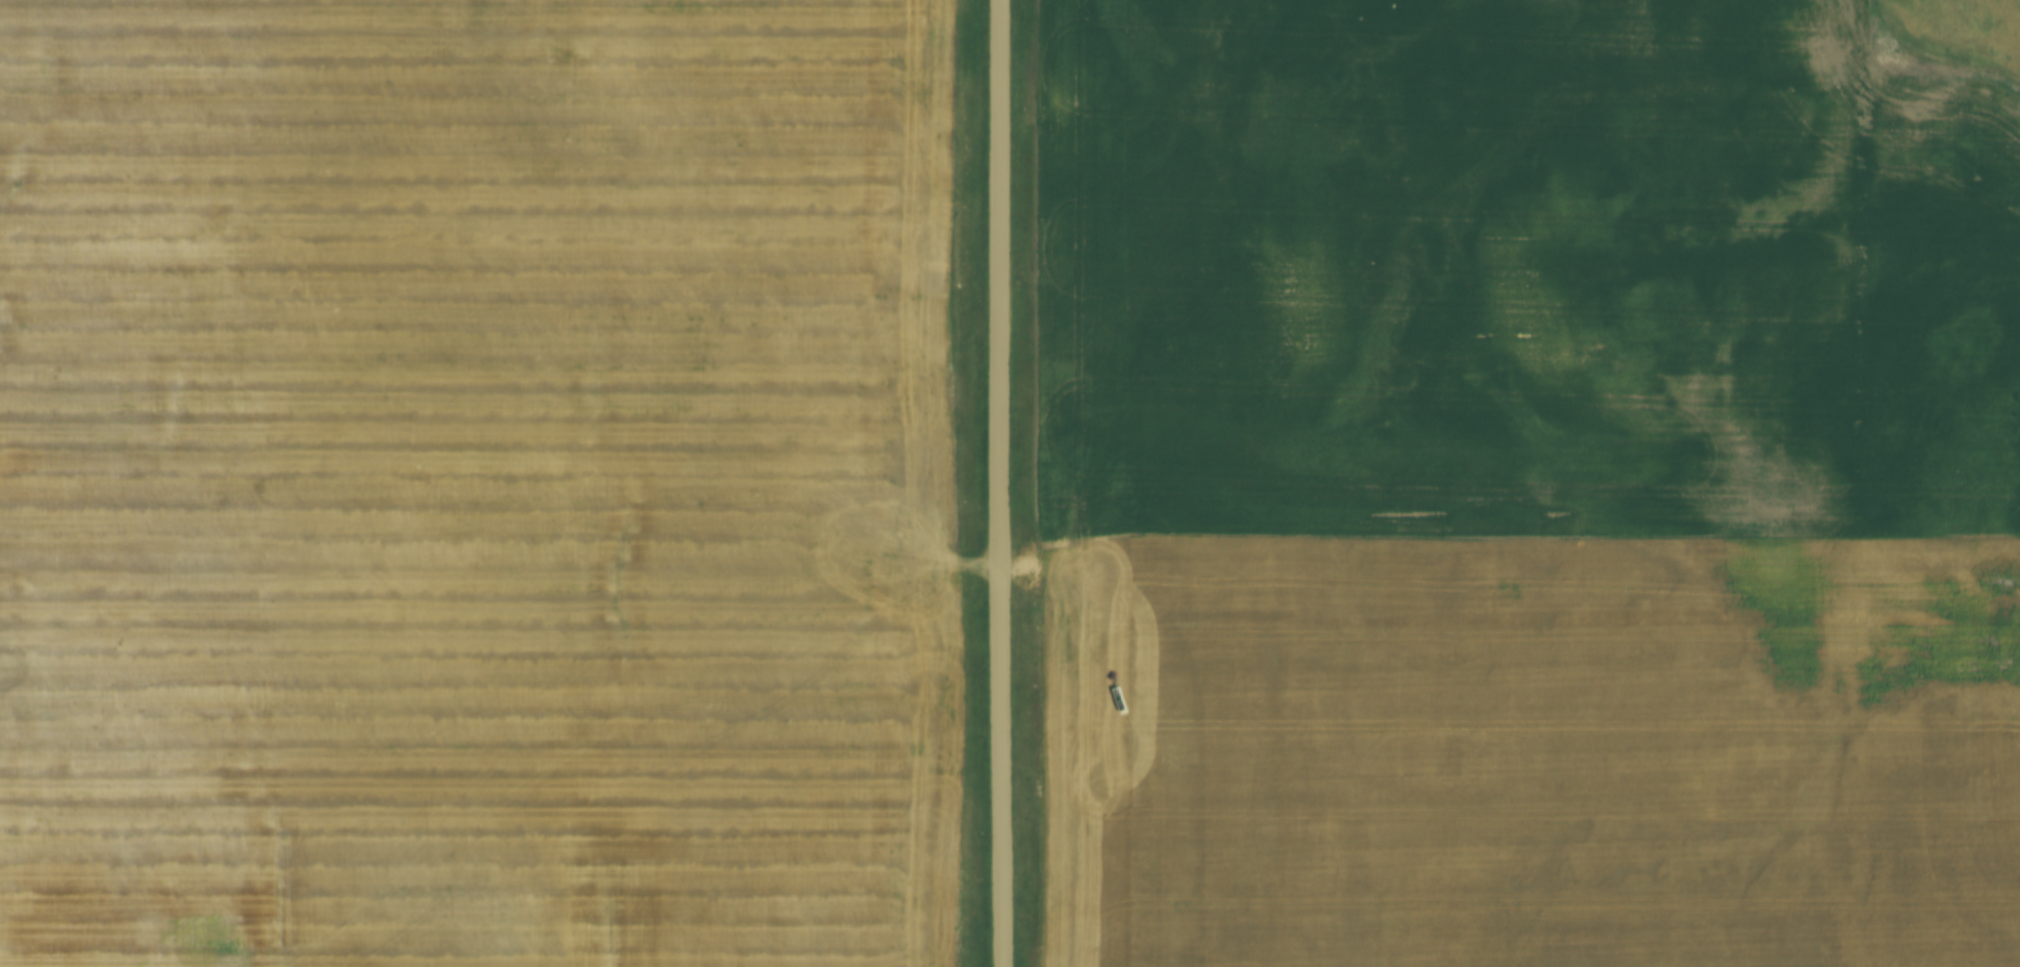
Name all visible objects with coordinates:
road: (1028, 483)

